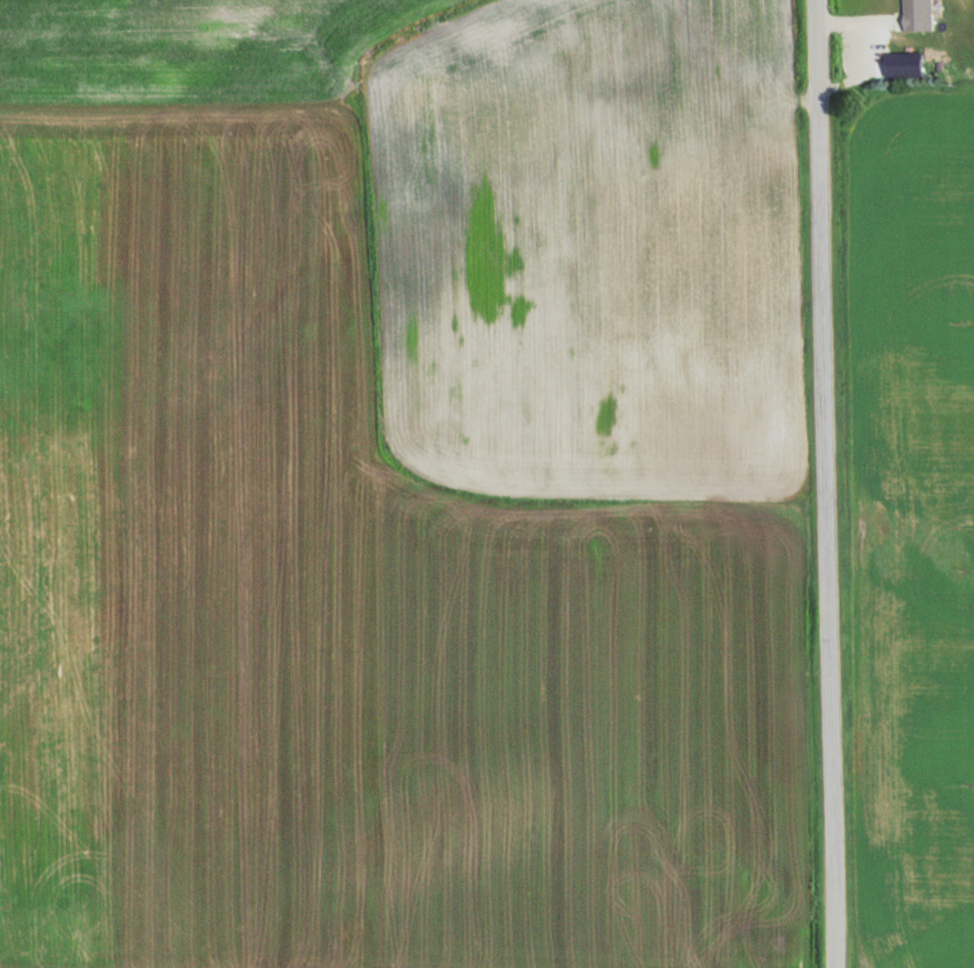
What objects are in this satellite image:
building: (925, 15)
road: (828, 484)

